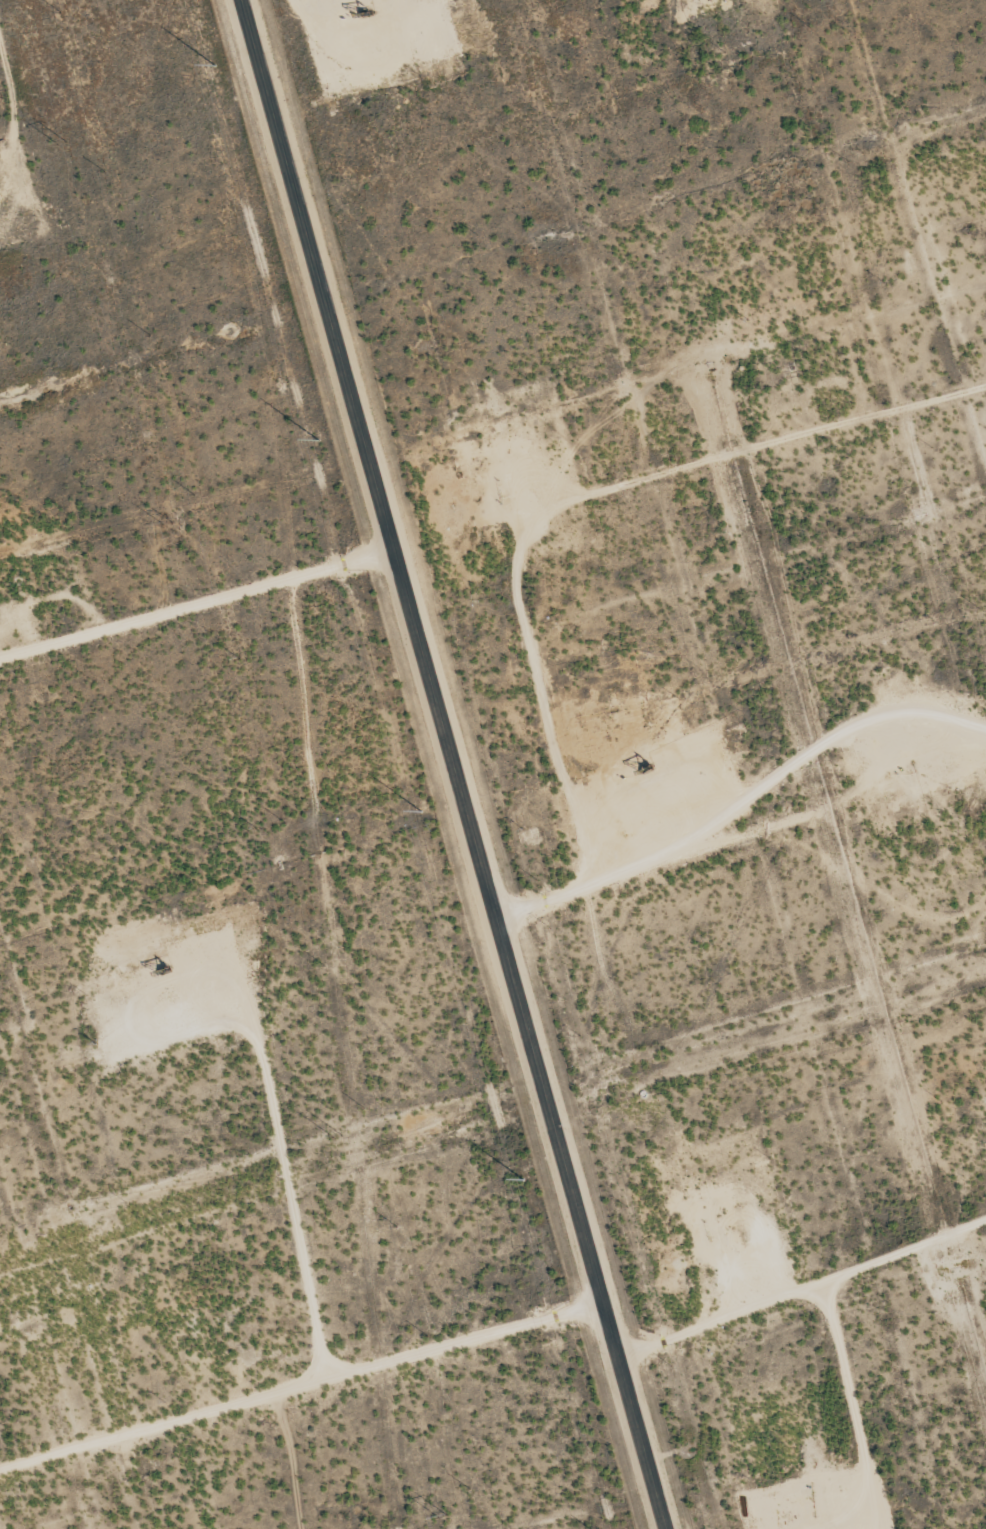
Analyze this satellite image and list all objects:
petroleum well: (359, 12)
power tower: (63, 139)
road: (797, 437)
power tower: (168, 523)
road: (196, 600)
road: (452, 764)
power tower: (252, 829)
power tower: (338, 1135)
road: (800, 1288)
road: (300, 1381)
power tower: (444, 1517)

